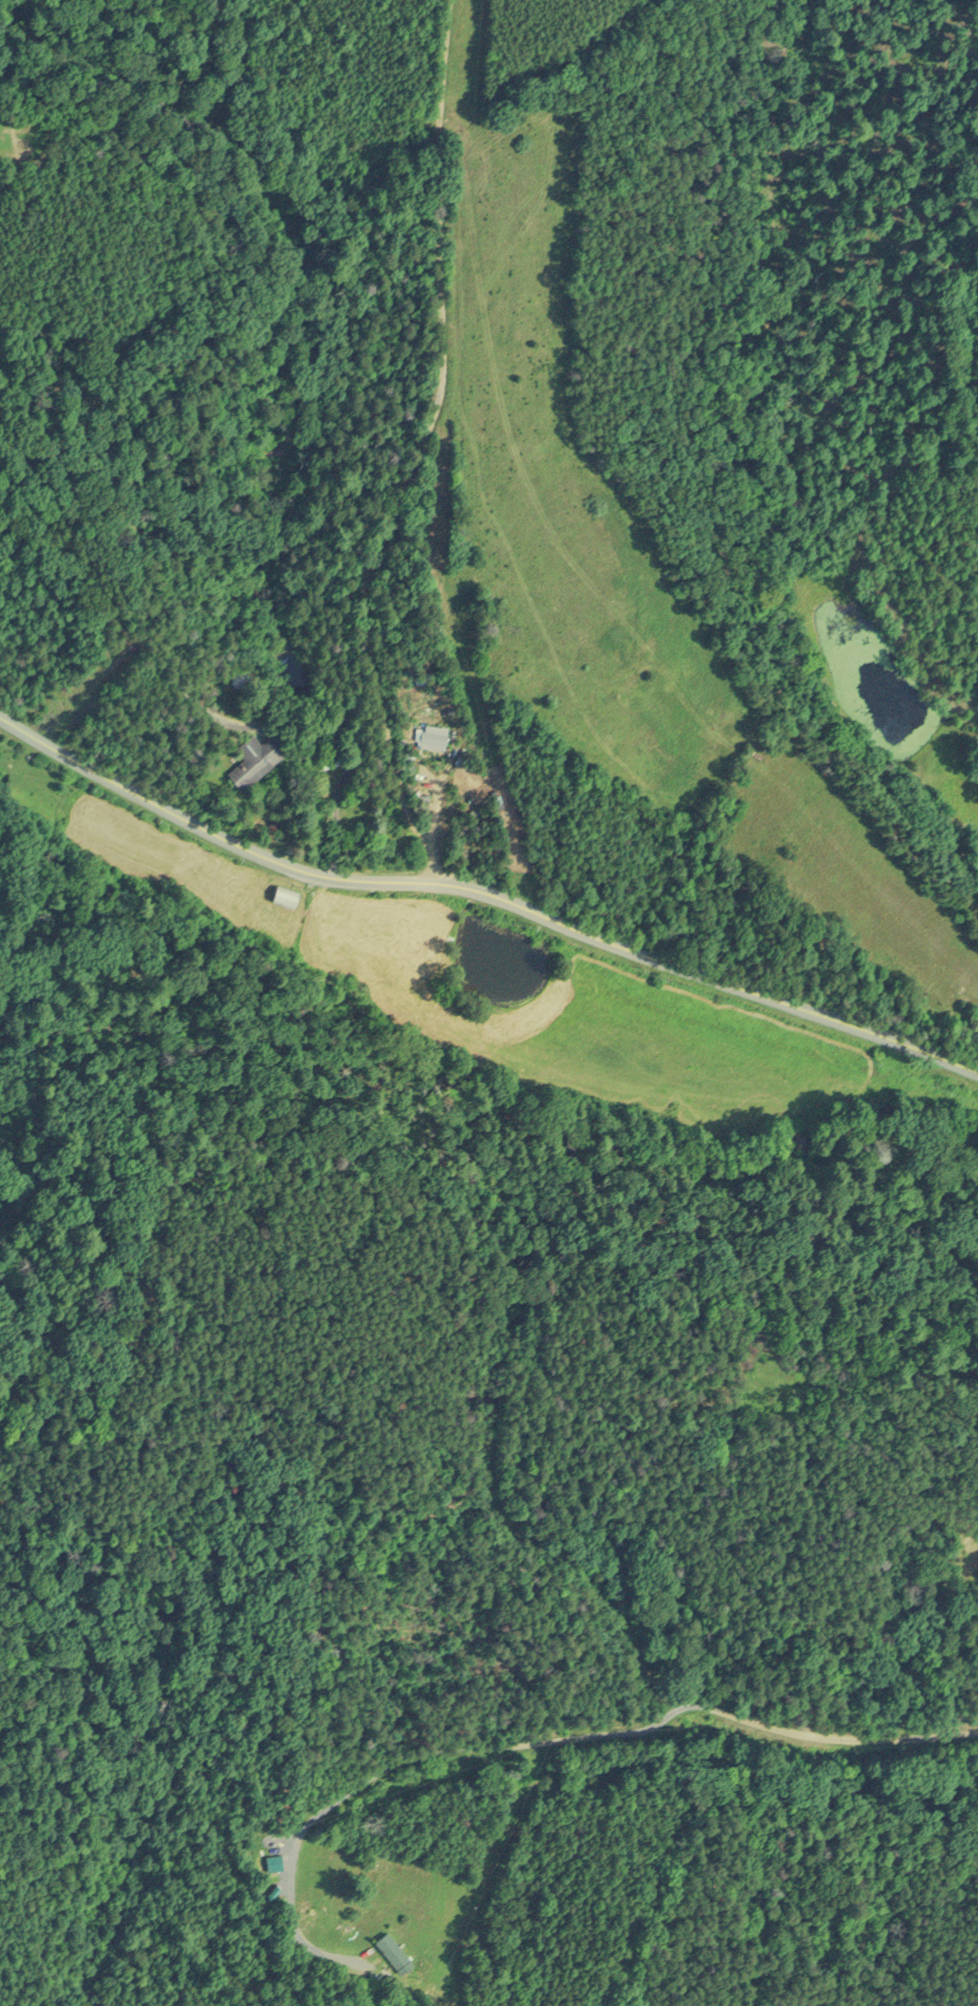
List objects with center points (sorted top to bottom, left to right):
road: (423, 448)
road: (140, 629)
building: (240, 674)
building: (259, 758)
road: (162, 812)
road: (431, 826)
building: (289, 894)
road: (658, 965)
road: (551, 1747)
building: (394, 1948)

